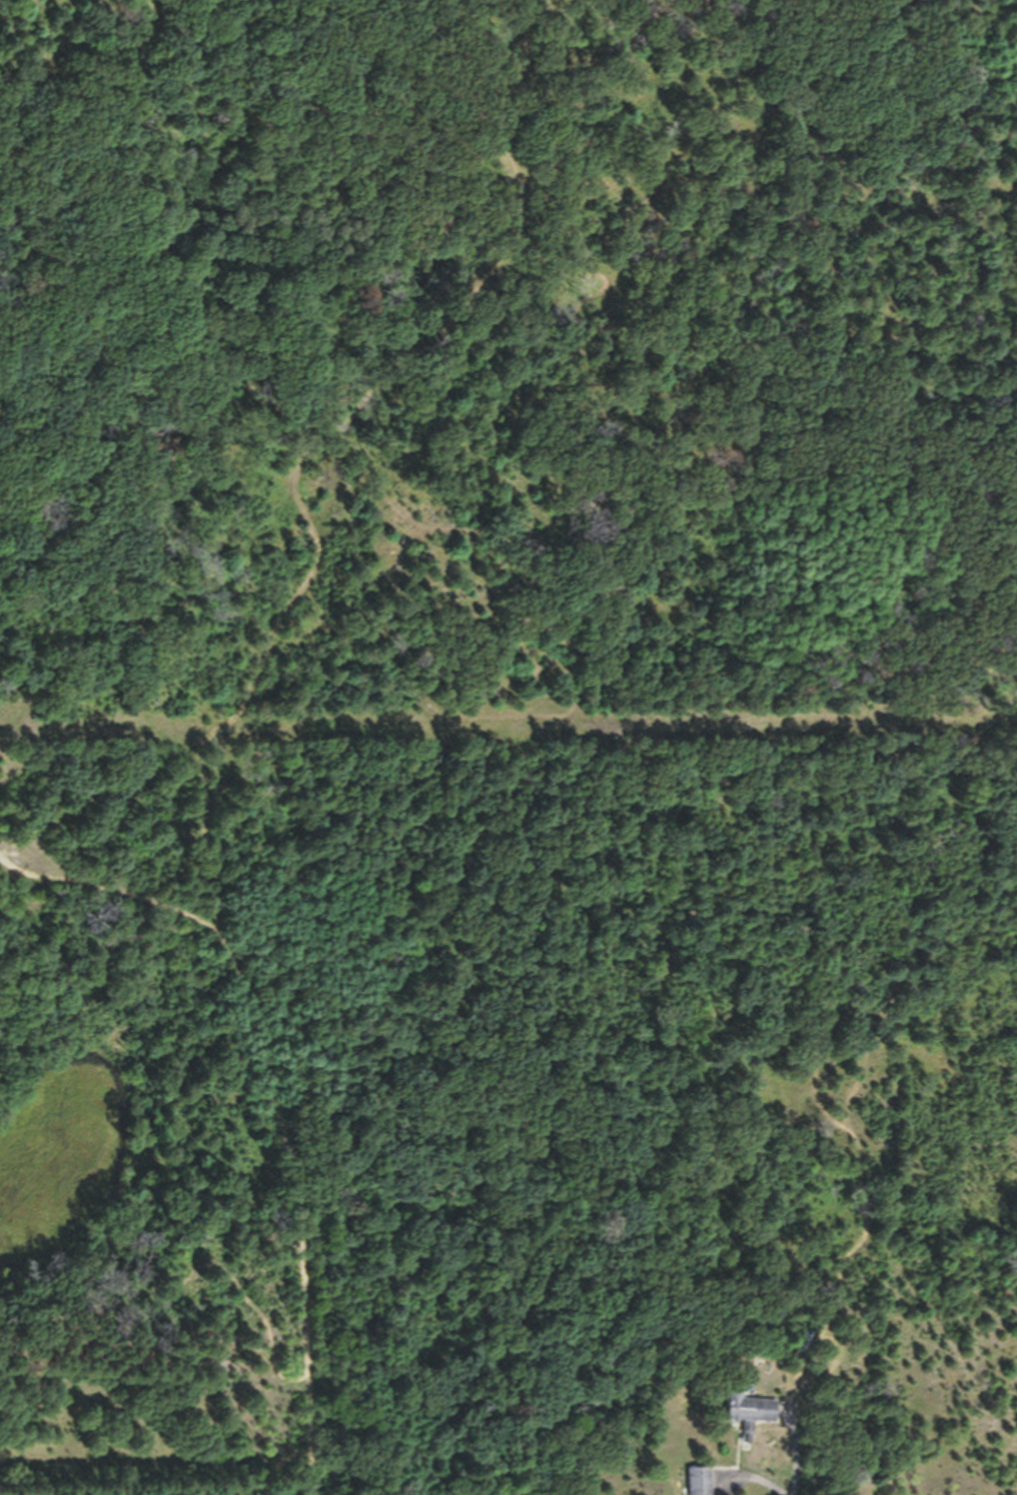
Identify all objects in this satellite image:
building: (749, 1415)
building: (696, 1485)

